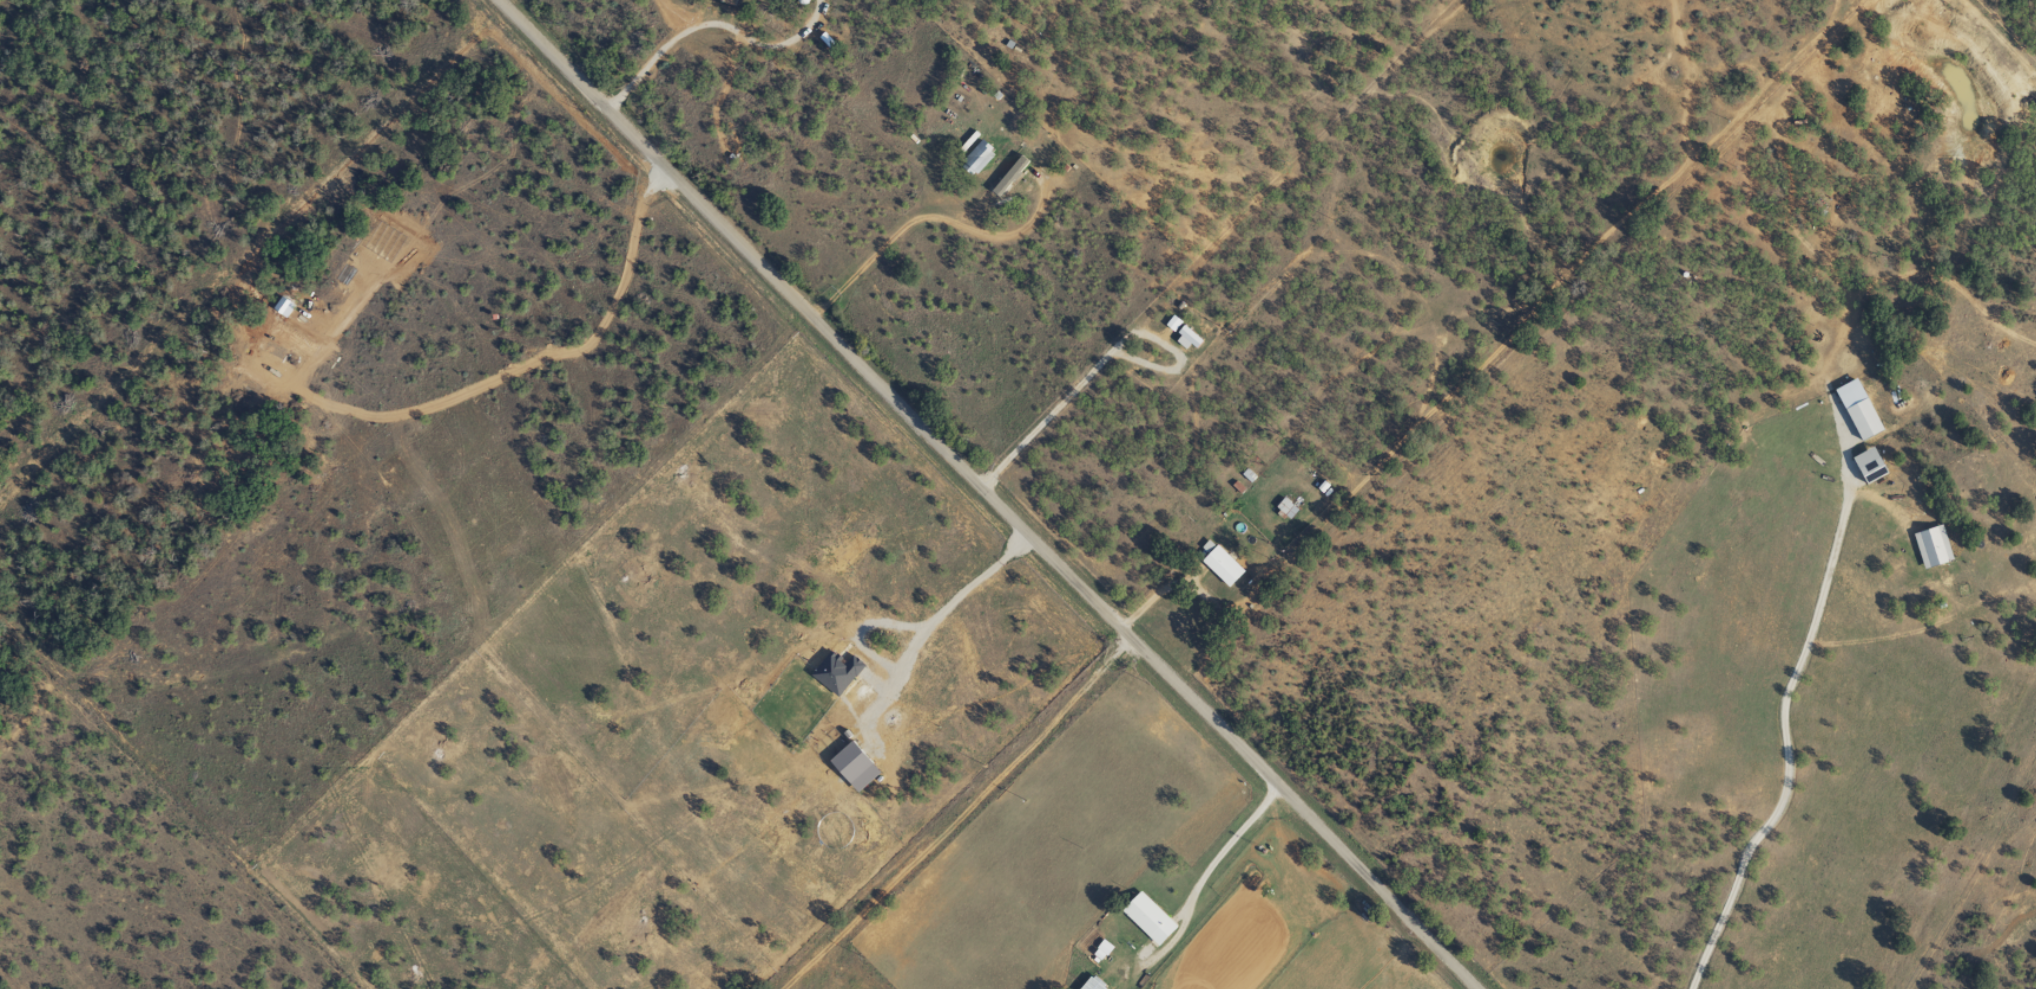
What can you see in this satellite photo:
building: (726, 2)
building: (973, 158)
road: (786, 329)
road: (1455, 437)
building: (1864, 465)
building: (1283, 507)
building: (1929, 546)
building: (1219, 565)
road: (1264, 817)
road: (926, 828)
building: (1145, 917)
building: (1097, 951)
building: (1089, 983)

